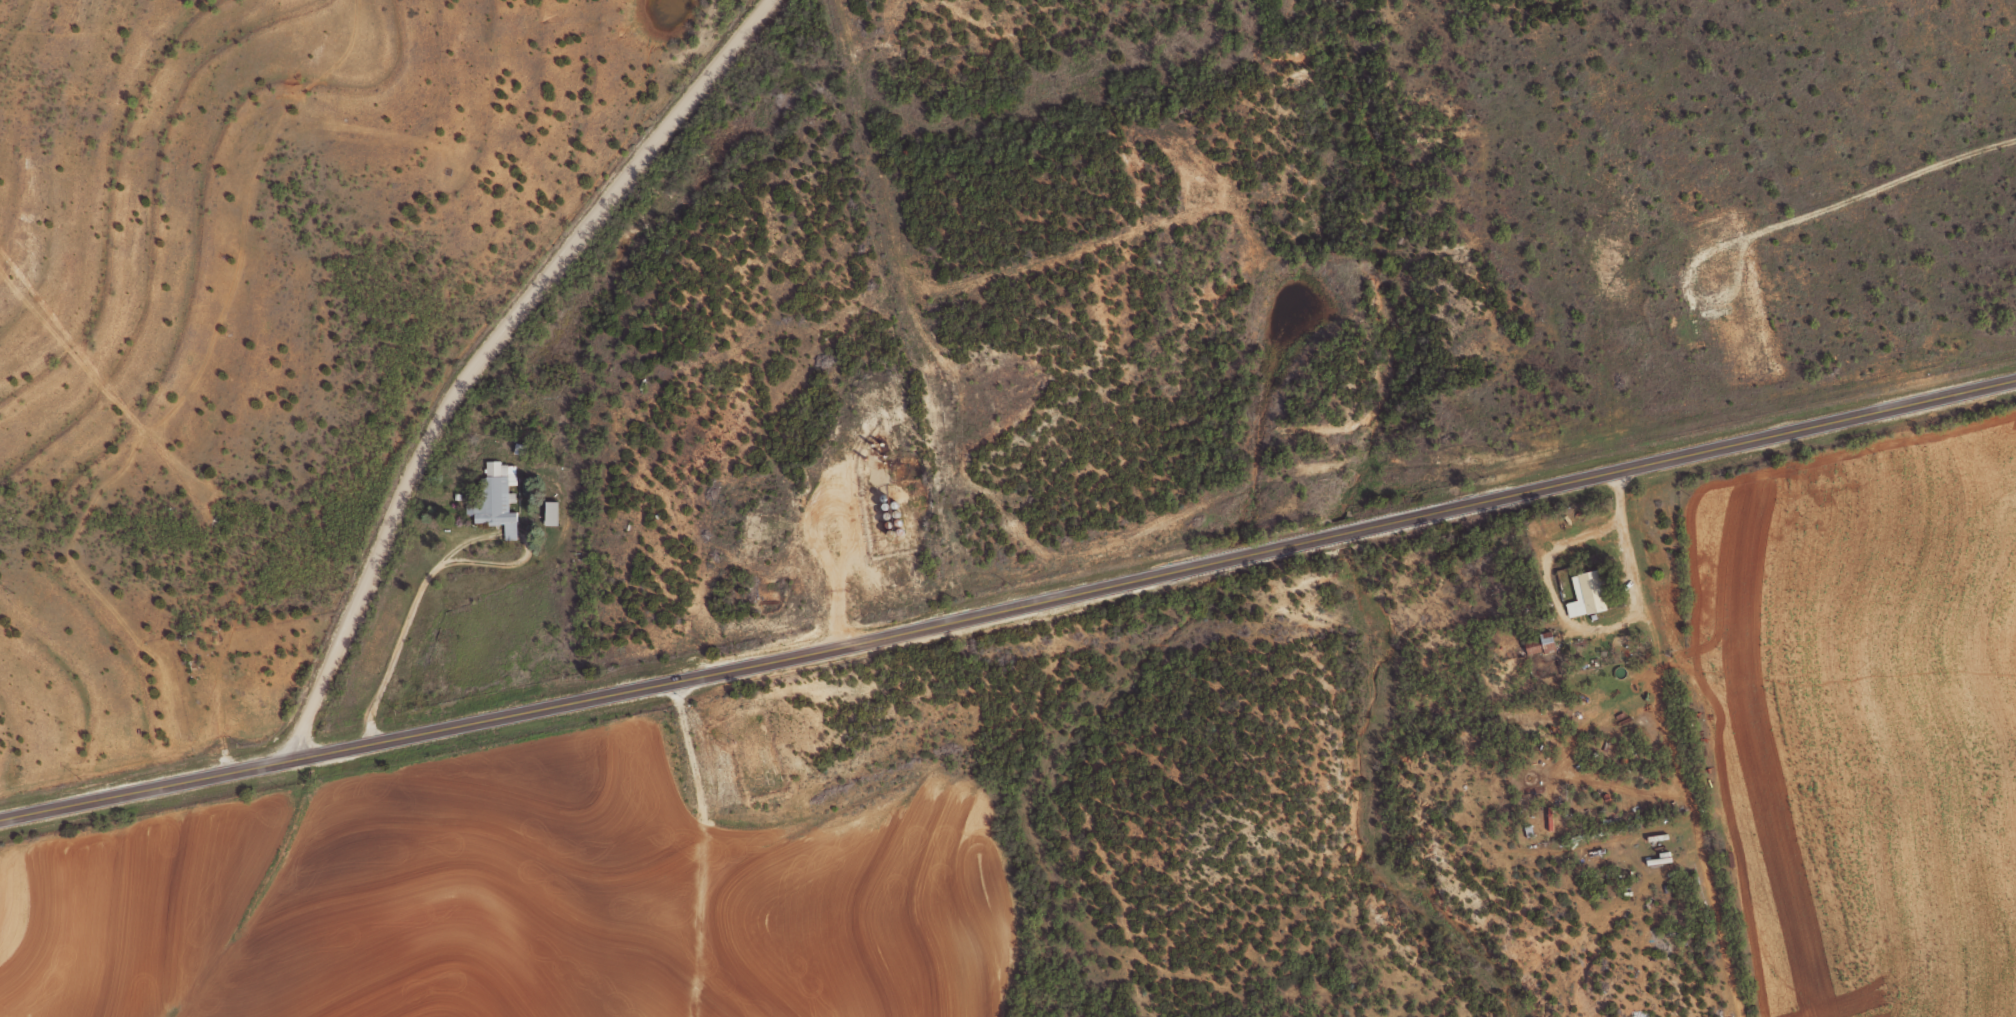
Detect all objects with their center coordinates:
road: (1100, 77)
road: (481, 356)
building: (496, 498)
building: (551, 513)
building: (1588, 593)
road: (1010, 609)
road: (1598, 624)
building: (1541, 643)
building: (1550, 817)

